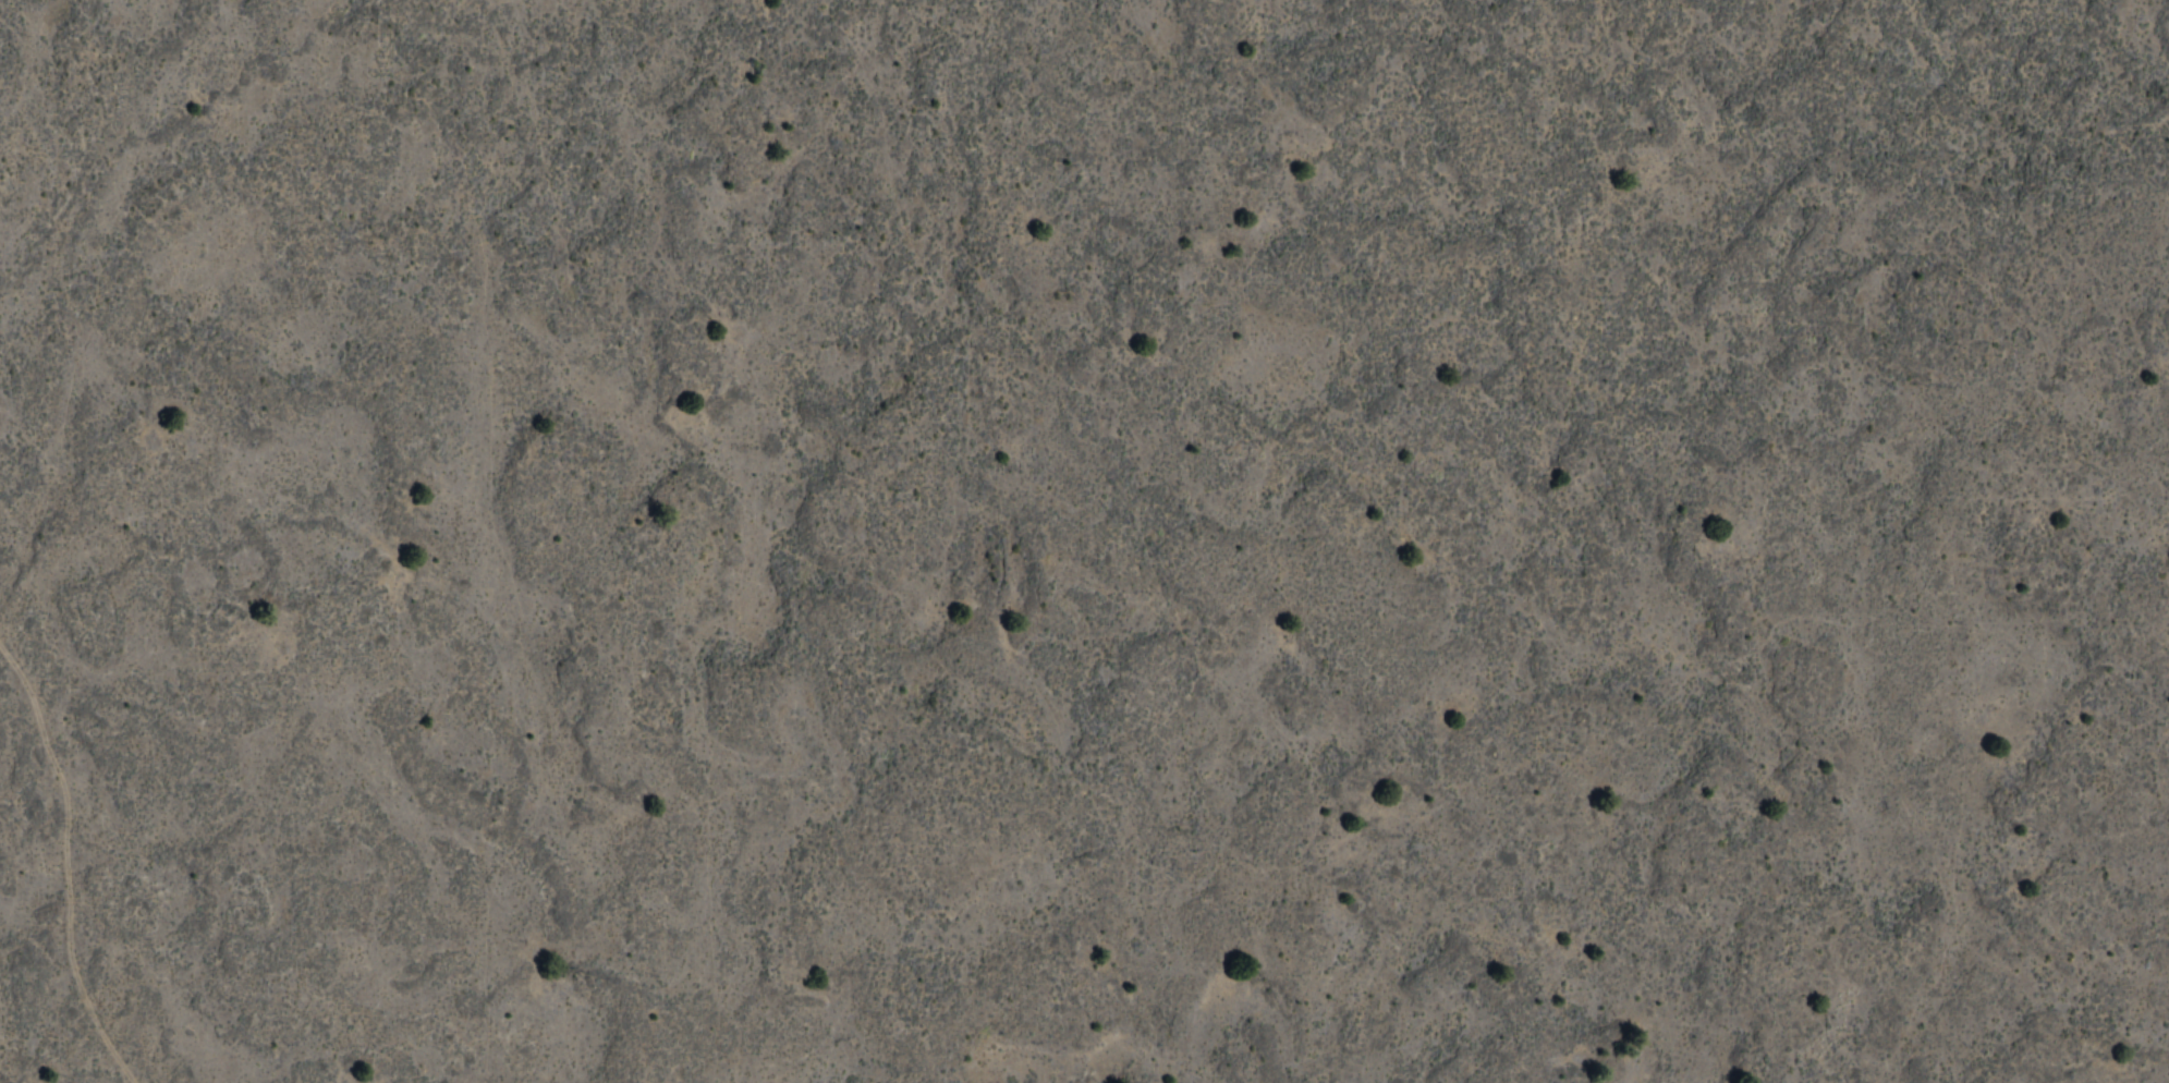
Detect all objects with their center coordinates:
road: (74, 865)

